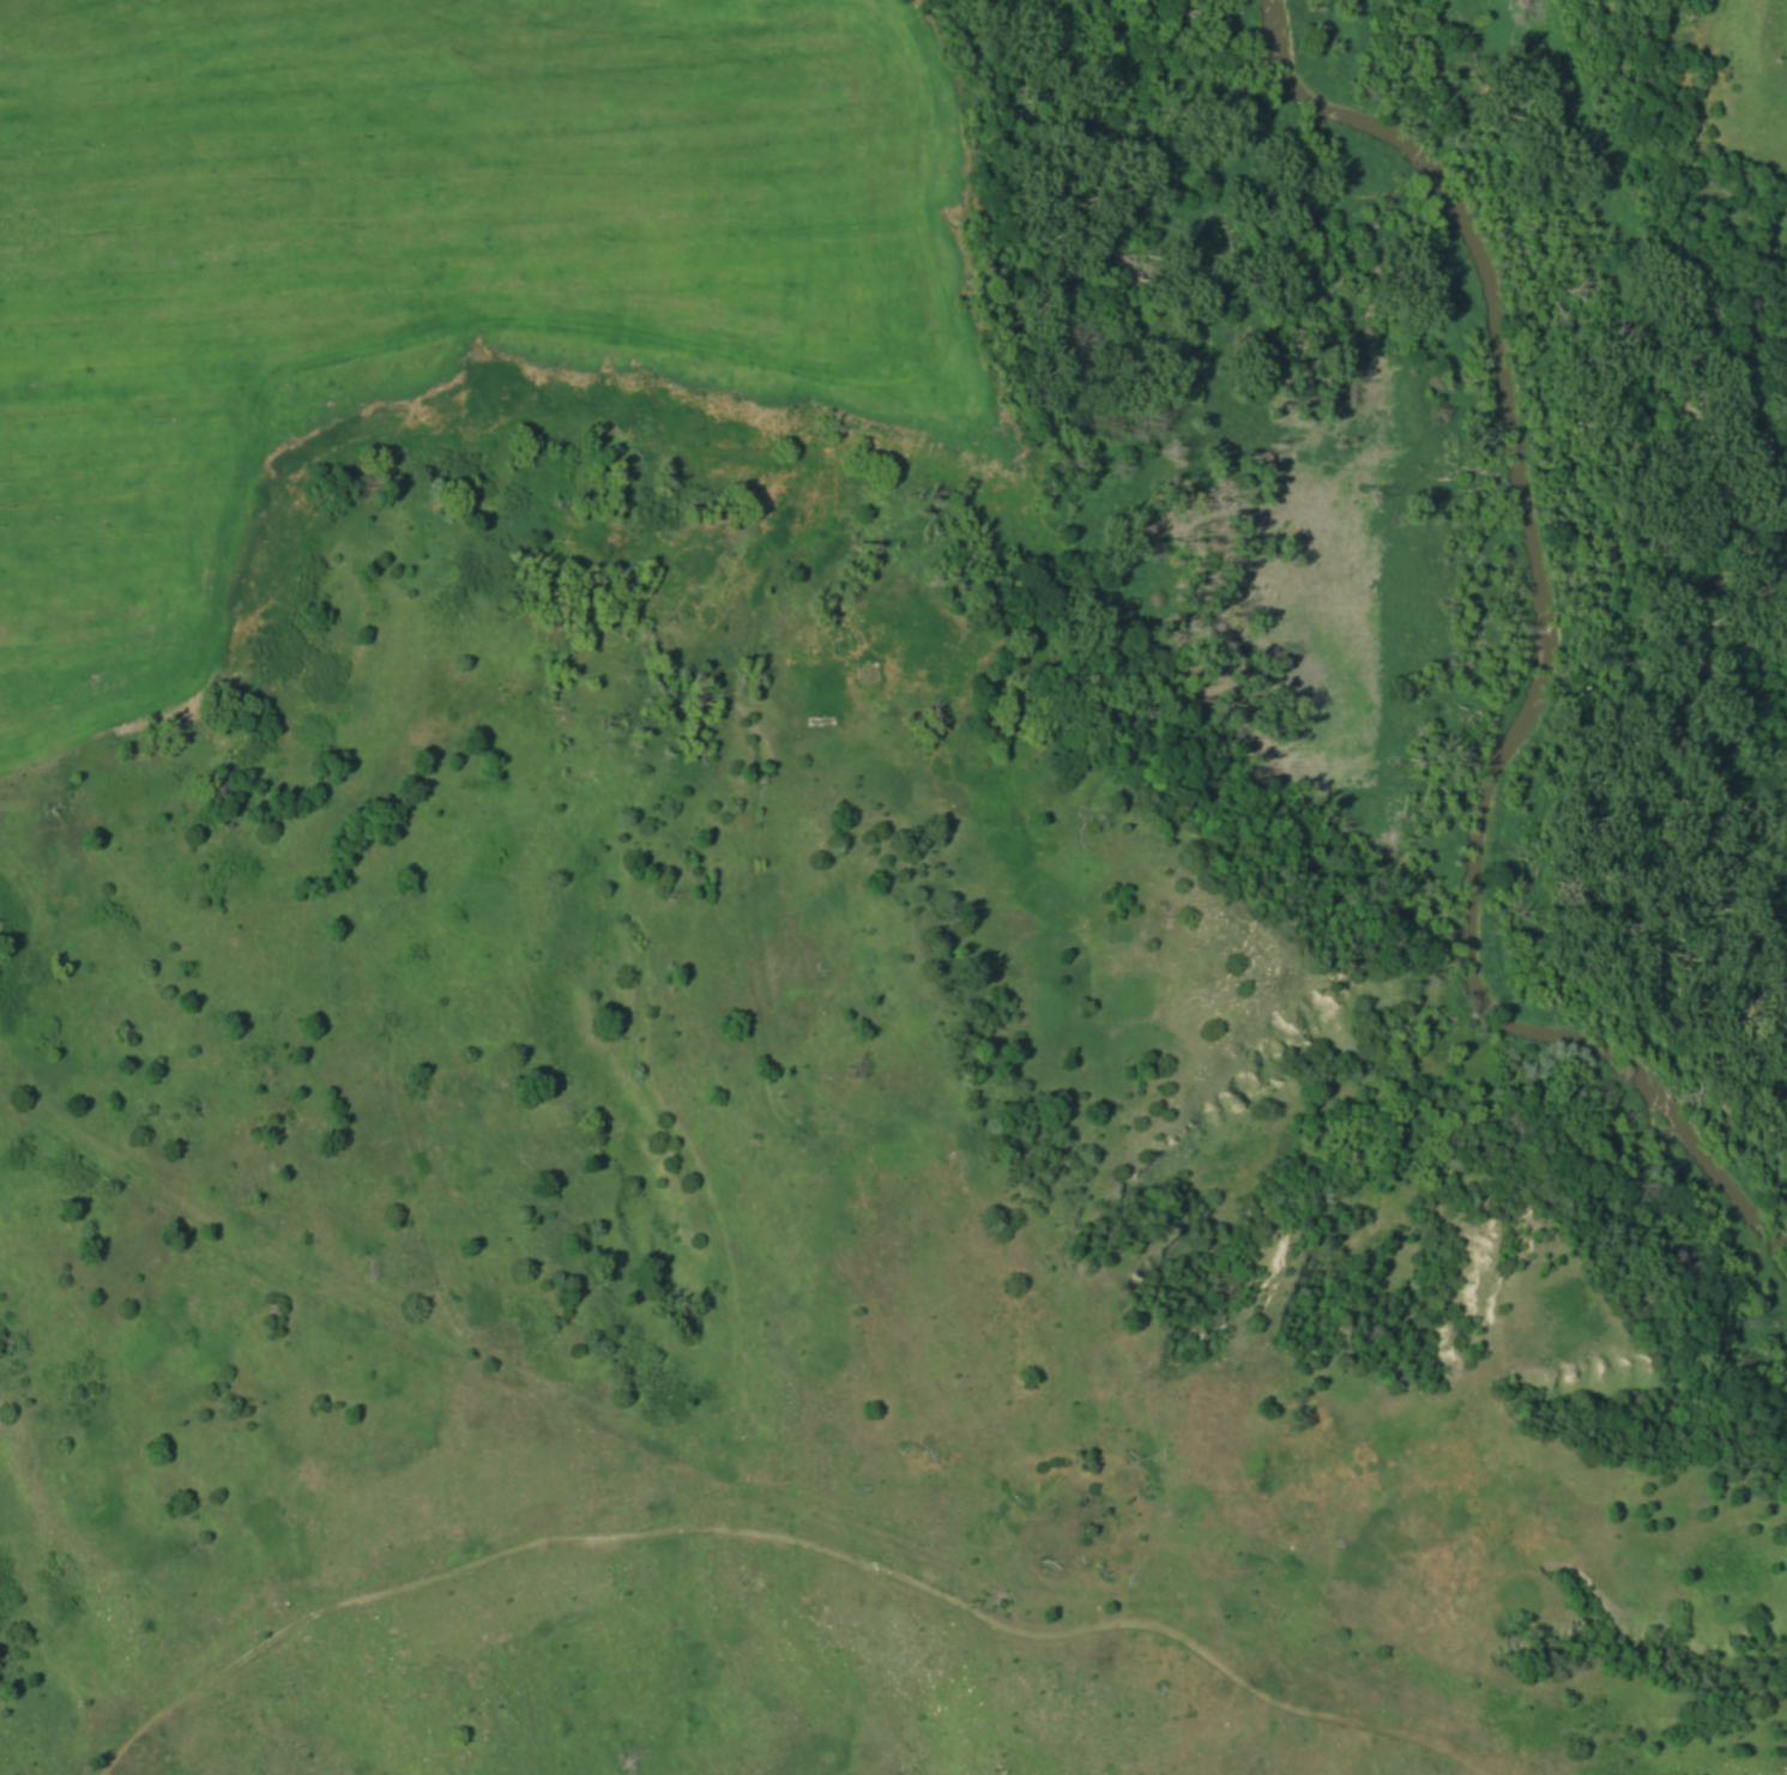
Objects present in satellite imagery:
crop: (452, 179)
crop: (115, 547)
park: (893, 887)

